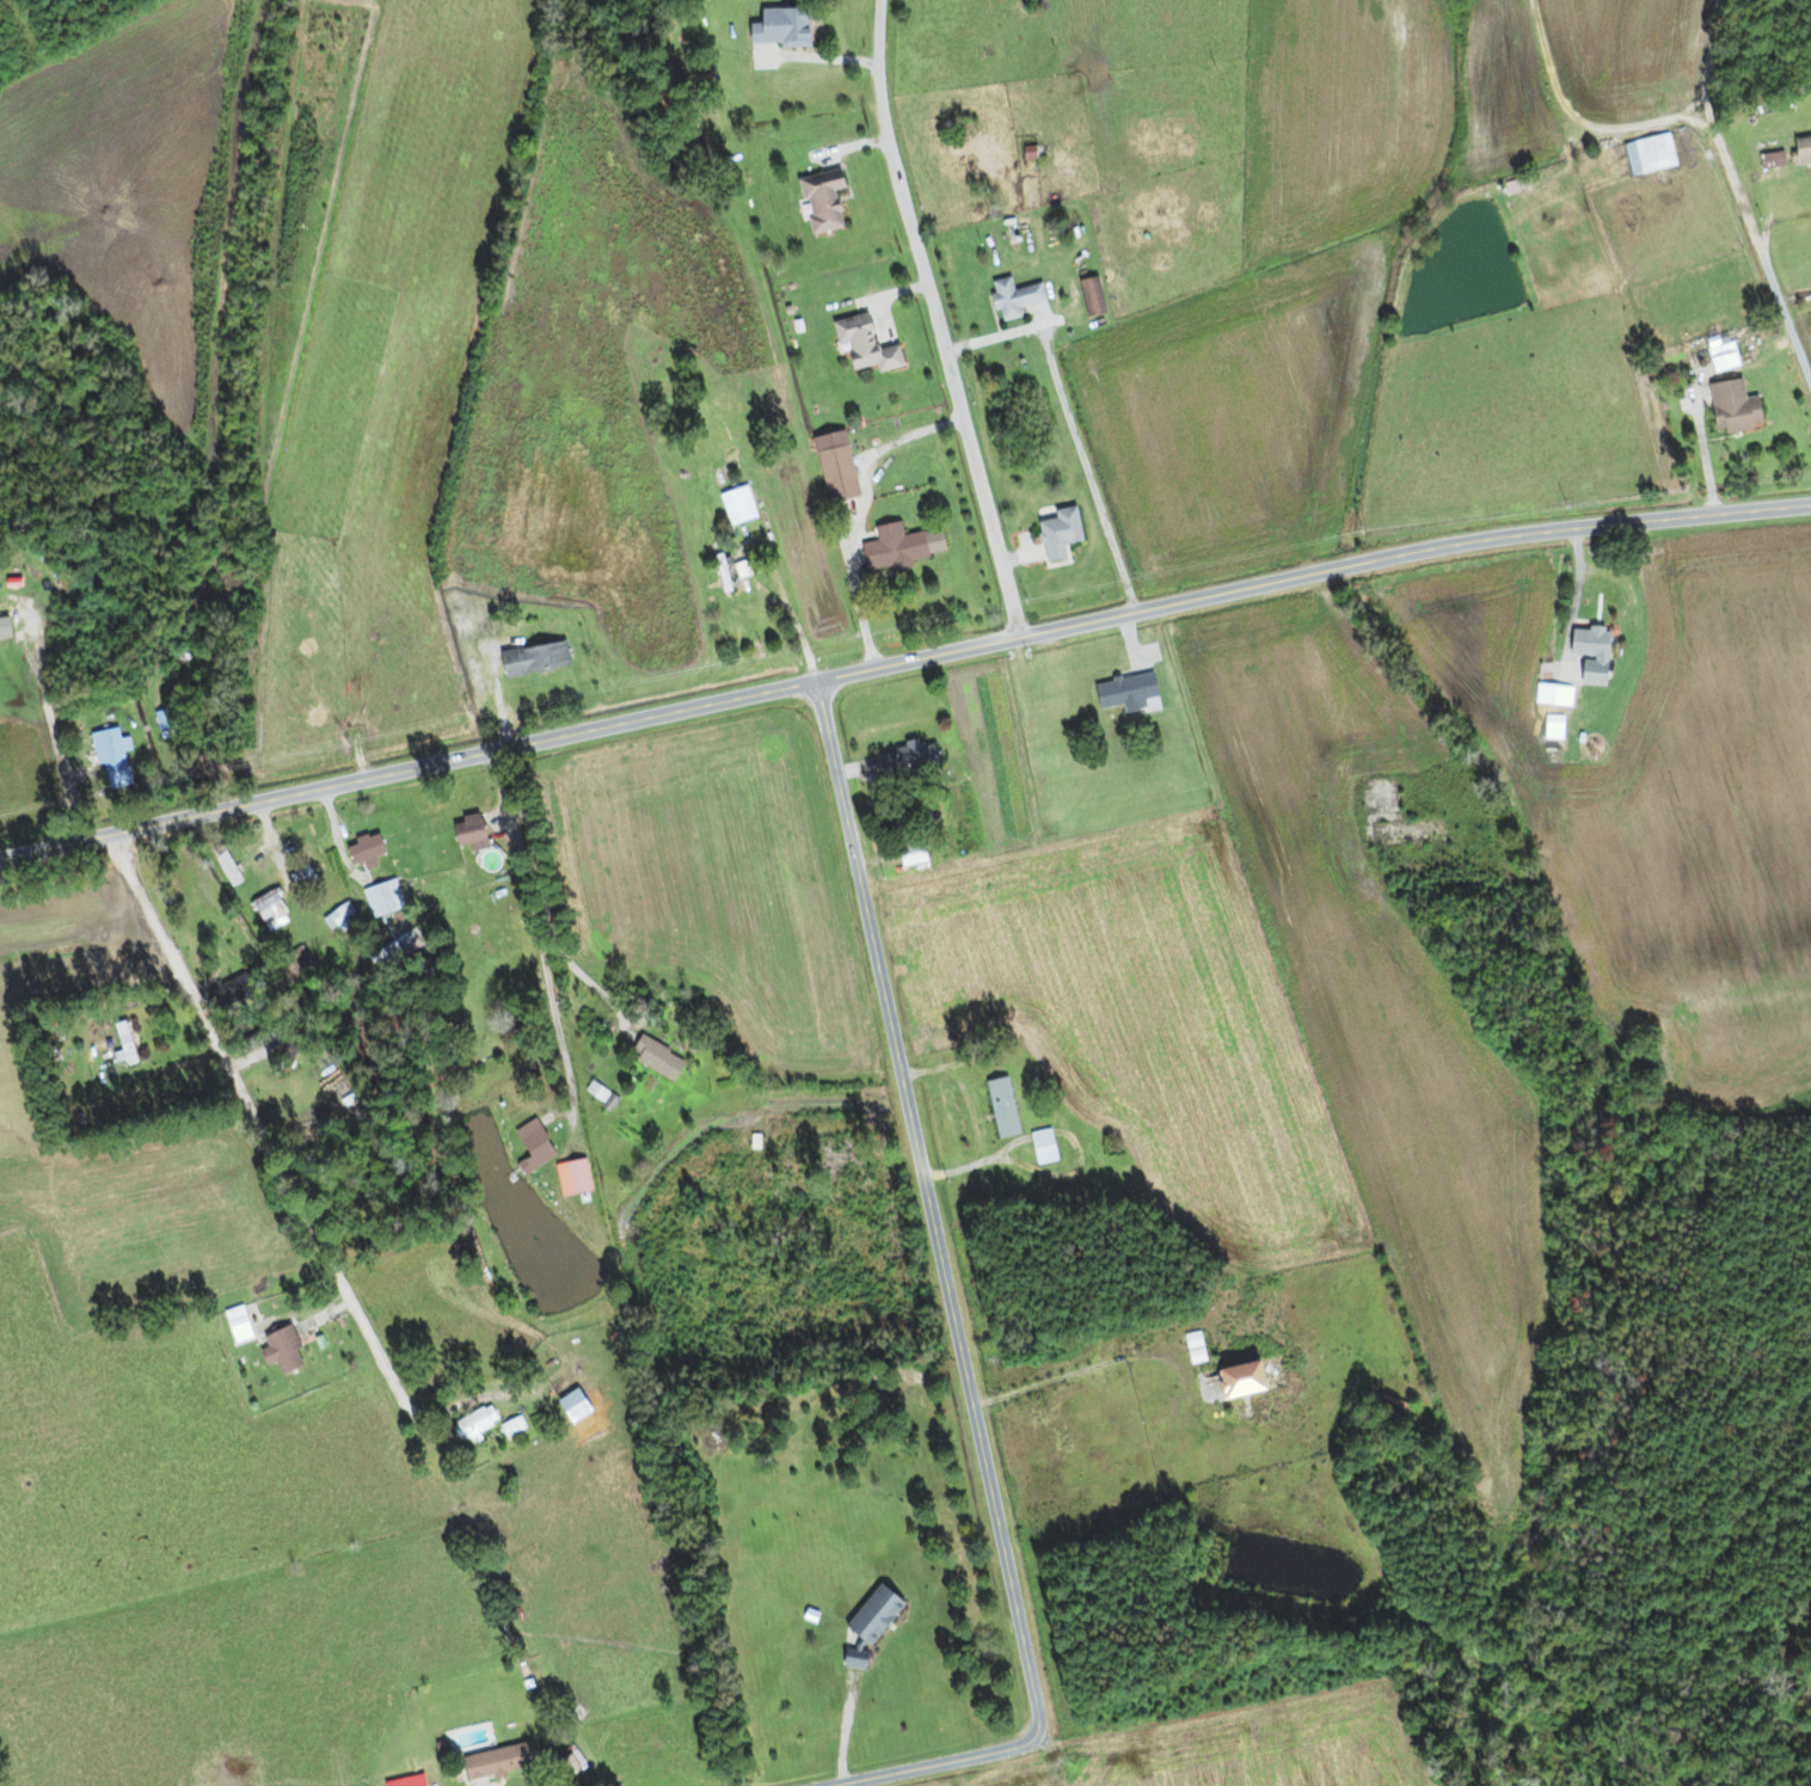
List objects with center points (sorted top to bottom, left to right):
building: (774, 26)
road: (1554, 130)
building: (1799, 151)
building: (1645, 154)
building: (817, 201)
road: (1729, 219)
building: (1087, 296)
building: (1009, 297)
road: (939, 321)
building: (860, 345)
building: (1729, 407)
building: (722, 412)
building: (833, 473)
building: (733, 505)
road: (858, 513)
building: (1054, 533)
building: (896, 546)
building: (4, 628)
road: (821, 632)
building: (1585, 653)
building: (528, 659)
road: (892, 668)
building: (1115, 693)
building: (1549, 695)
building: (1549, 728)
road: (74, 729)
building: (1485, 750)
building: (903, 760)
building: (461, 831)
building: (358, 851)
building: (904, 855)
road: (401, 863)
road: (446, 864)
building: (222, 869)
building: (300, 879)
building: (376, 898)
building: (264, 912)
building: (334, 916)
building: (392, 951)
building: (293, 963)
building: (123, 1042)
building: (650, 1058)
building: (997, 1109)
building: (529, 1143)
road: (131, 1144)
building: (1038, 1148)
building: (567, 1177)
road: (1761, 1209)
road: (935, 1240)
building: (233, 1325)
building: (276, 1350)
road: (1072, 1373)
building: (1230, 1382)
building: (567, 1407)
building: (469, 1423)
building: (508, 1428)
building: (561, 1762)
building: (490, 1763)
road: (907, 1770)

